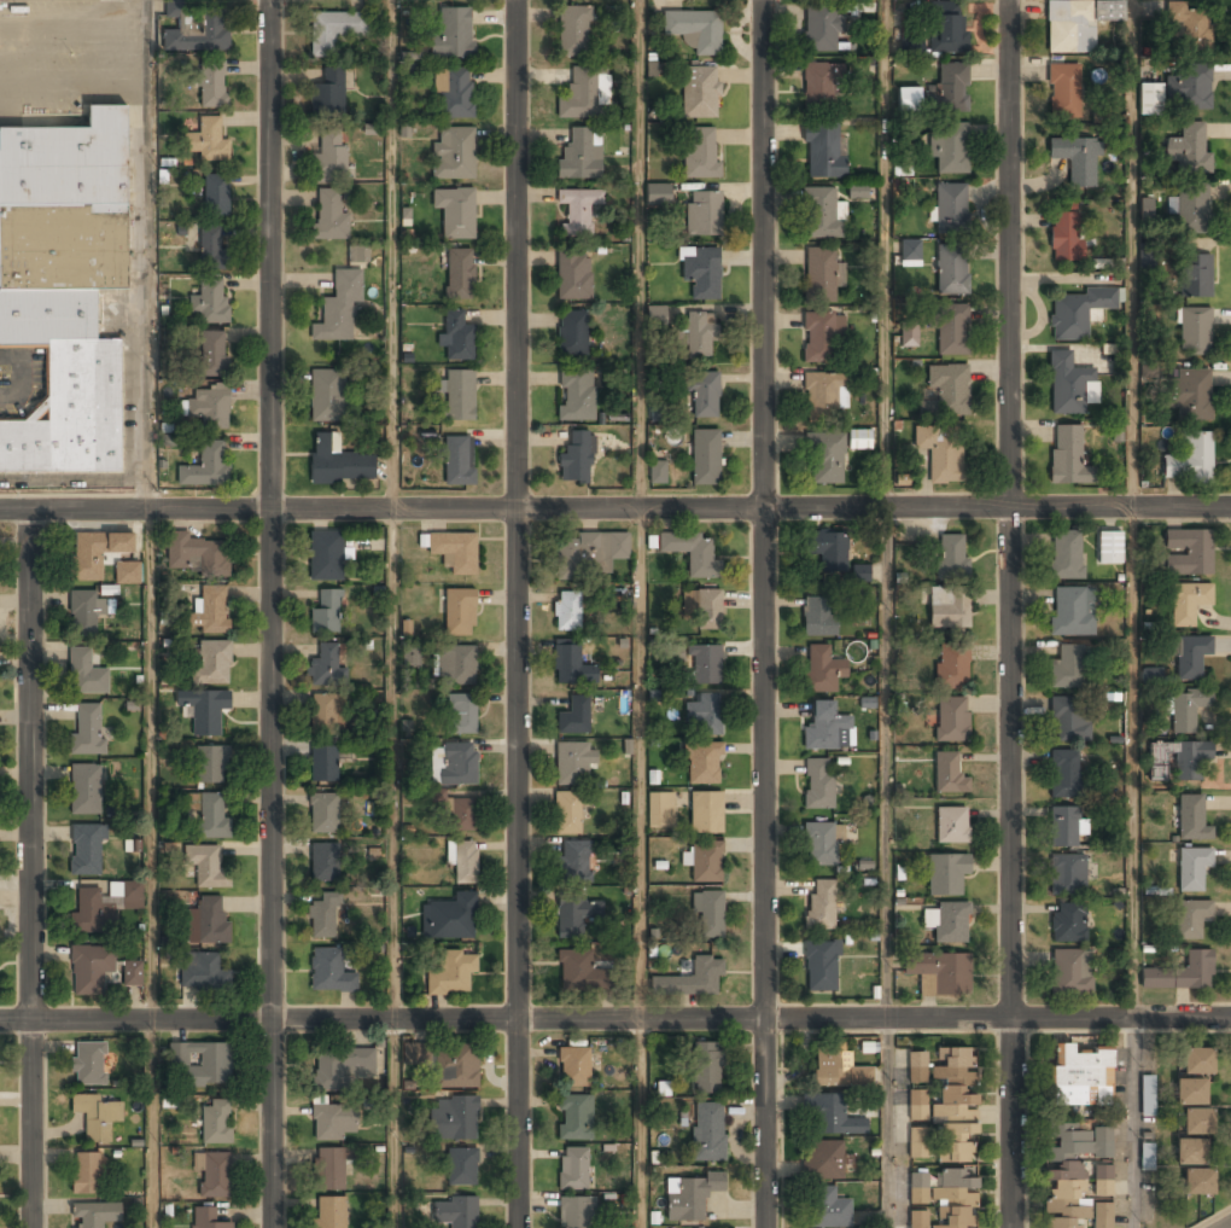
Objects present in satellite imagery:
building: (1077, 24)
building: (1186, 25)
building: (821, 29)
building: (947, 29)
building: (694, 30)
building: (197, 31)
building: (333, 31)
building: (573, 31)
building: (451, 34)
building: (209, 85)
building: (819, 86)
building: (1188, 87)
building: (950, 88)
building: (1064, 91)
building: (700, 92)
building: (454, 93)
building: (328, 94)
building: (579, 95)
building: (909, 98)
building: (1150, 98)
building: (372, 129)
building: (206, 141)
building: (949, 149)
building: (1189, 150)
building: (453, 153)
building: (822, 153)
building: (700, 155)
building: (329, 156)
building: (579, 156)
building: (1077, 161)
building: (858, 191)
building: (216, 196)
building: (950, 205)
building: (1147, 208)
building: (1191, 209)
building: (455, 211)
building: (578, 211)
building: (819, 214)
building: (331, 215)
building: (704, 215)
building: (1066, 237)
building: (210, 250)
building: (910, 251)
building: (357, 254)
building: (951, 270)
building: (700, 272)
building: (460, 274)
building: (822, 275)
building: (1194, 275)
building: (573, 279)
building: (64, 287)
building: (210, 302)
building: (338, 309)
building: (1077, 313)
building: (657, 315)
building: (951, 330)
building: (1194, 332)
building: (572, 334)
building: (909, 336)
building: (456, 337)
building: (698, 337)
building: (821, 337)
building: (212, 354)
building: (1067, 385)
building: (945, 391)
building: (702, 394)
building: (459, 395)
building: (577, 395)
building: (1189, 395)
building: (327, 396)
building: (822, 396)
building: (209, 408)
building: (859, 438)
building: (940, 453)
building: (1067, 455)
building: (705, 458)
building: (825, 459)
building: (459, 460)
building: (576, 460)
building: (1190, 461)
building: (339, 465)
building: (206, 467)
building: (657, 473)
road: (1133, 508)
road: (615, 510)
building: (828, 549)
building: (1109, 549)
building: (453, 551)
building: (692, 552)
building: (1189, 552)
building: (95, 553)
building: (589, 554)
building: (197, 555)
building: (1066, 555)
building: (325, 557)
building: (951, 558)
building: (127, 574)
building: (860, 575)
building: (614, 595)
building: (1186, 603)
building: (706, 607)
building: (949, 610)
building: (1070, 611)
building: (210, 612)
building: (567, 612)
building: (84, 613)
road: (148, 613)
road: (273, 613)
building: (326, 613)
road: (392, 613)
building: (460, 613)
road: (518, 613)
road: (638, 613)
road: (764, 613)
road: (883, 613)
road: (1014, 613)
building: (819, 617)
building: (1190, 657)
building: (211, 663)
building: (326, 665)
building: (456, 665)
building: (706, 665)
building: (571, 667)
building: (951, 668)
building: (1068, 668)
building: (822, 670)
building: (86, 674)
building: (1151, 675)
building: (204, 710)
building: (1186, 710)
building: (326, 714)
building: (705, 714)
building: (461, 715)
building: (574, 717)
building: (1070, 718)
building: (951, 720)
building: (827, 727)
building: (88, 729)
building: (1183, 758)
building: (704, 763)
building: (211, 764)
building: (459, 764)
building: (573, 764)
building: (323, 766)
building: (949, 774)
building: (1064, 774)
building: (817, 785)
building: (86, 790)
building: (658, 808)
building: (706, 813)
building: (323, 814)
building: (568, 814)
building: (212, 815)
building: (461, 815)
building: (1191, 820)
building: (951, 826)
building: (1063, 828)
building: (819, 845)
building: (86, 851)
building: (463, 862)
building: (704, 862)
building: (323, 863)
building: (574, 863)
building: (205, 867)
road: (33, 868)
building: (1192, 869)
building: (946, 874)
building: (1067, 874)
building: (821, 906)
building: (89, 913)
building: (708, 913)
building: (576, 916)
building: (323, 918)
building: (449, 919)
building: (1191, 919)
building: (208, 921)
building: (1068, 923)
building: (949, 924)
building: (819, 967)
building: (89, 970)
building: (133, 972)
building: (203, 972)
building: (577, 972)
building: (329, 973)
building: (451, 973)
building: (939, 973)
building: (1068, 974)
building: (1182, 974)
building: (690, 980)
road: (614, 1020)
building: (414, 1059)
building: (1197, 1063)
building: (88, 1064)
building: (199, 1065)
building: (342, 1066)
building: (574, 1067)
building: (456, 1069)
building: (706, 1069)
building: (917, 1069)
building: (836, 1071)
building: (1078, 1077)
building: (1191, 1093)
building: (1147, 1095)
building: (828, 1117)
building: (93, 1118)
building: (574, 1118)
building: (454, 1119)
building: (216, 1122)
building: (333, 1123)
road: (1133, 1123)
building: (1197, 1123)
building: (707, 1133)
building: (947, 1141)
building: (917, 1143)
building: (1191, 1152)
building: (822, 1162)
building: (461, 1168)
building: (331, 1170)
building: (573, 1170)
building: (86, 1174)
building: (214, 1174)
building: (1073, 1175)
building: (1103, 1182)
building: (1198, 1183)
building: (689, 1197)
building: (828, 1209)
building: (331, 1212)
building: (455, 1212)
building: (576, 1214)
building: (94, 1215)
building: (209, 1218)
road: (1227, 1226)

